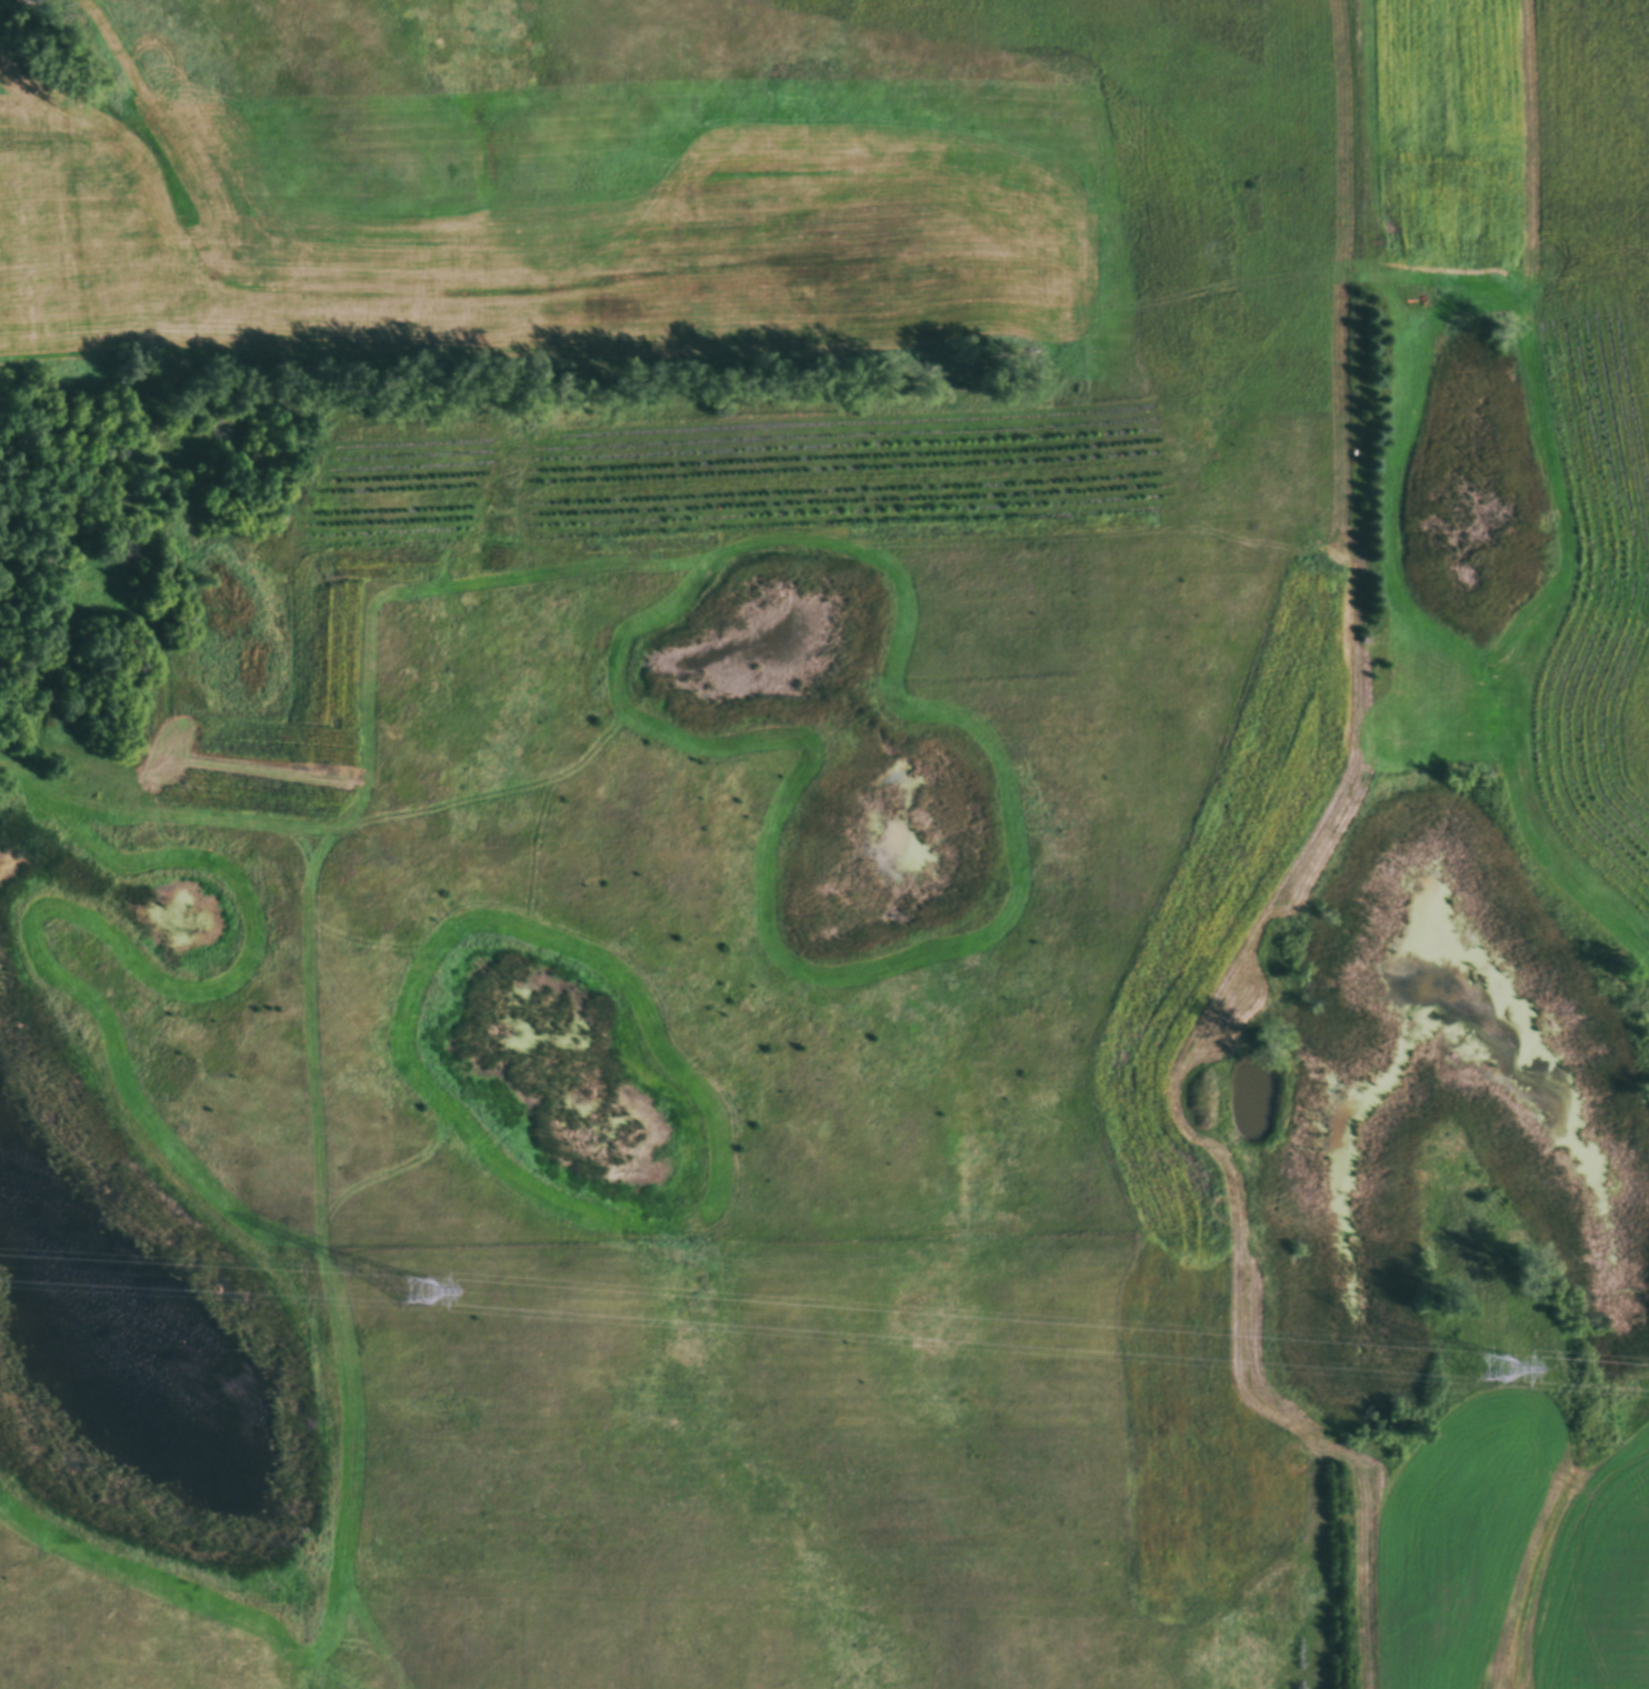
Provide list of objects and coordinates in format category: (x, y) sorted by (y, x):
road: (54, 676)
power tower: (406, 1292)
power tower: (1475, 1372)

